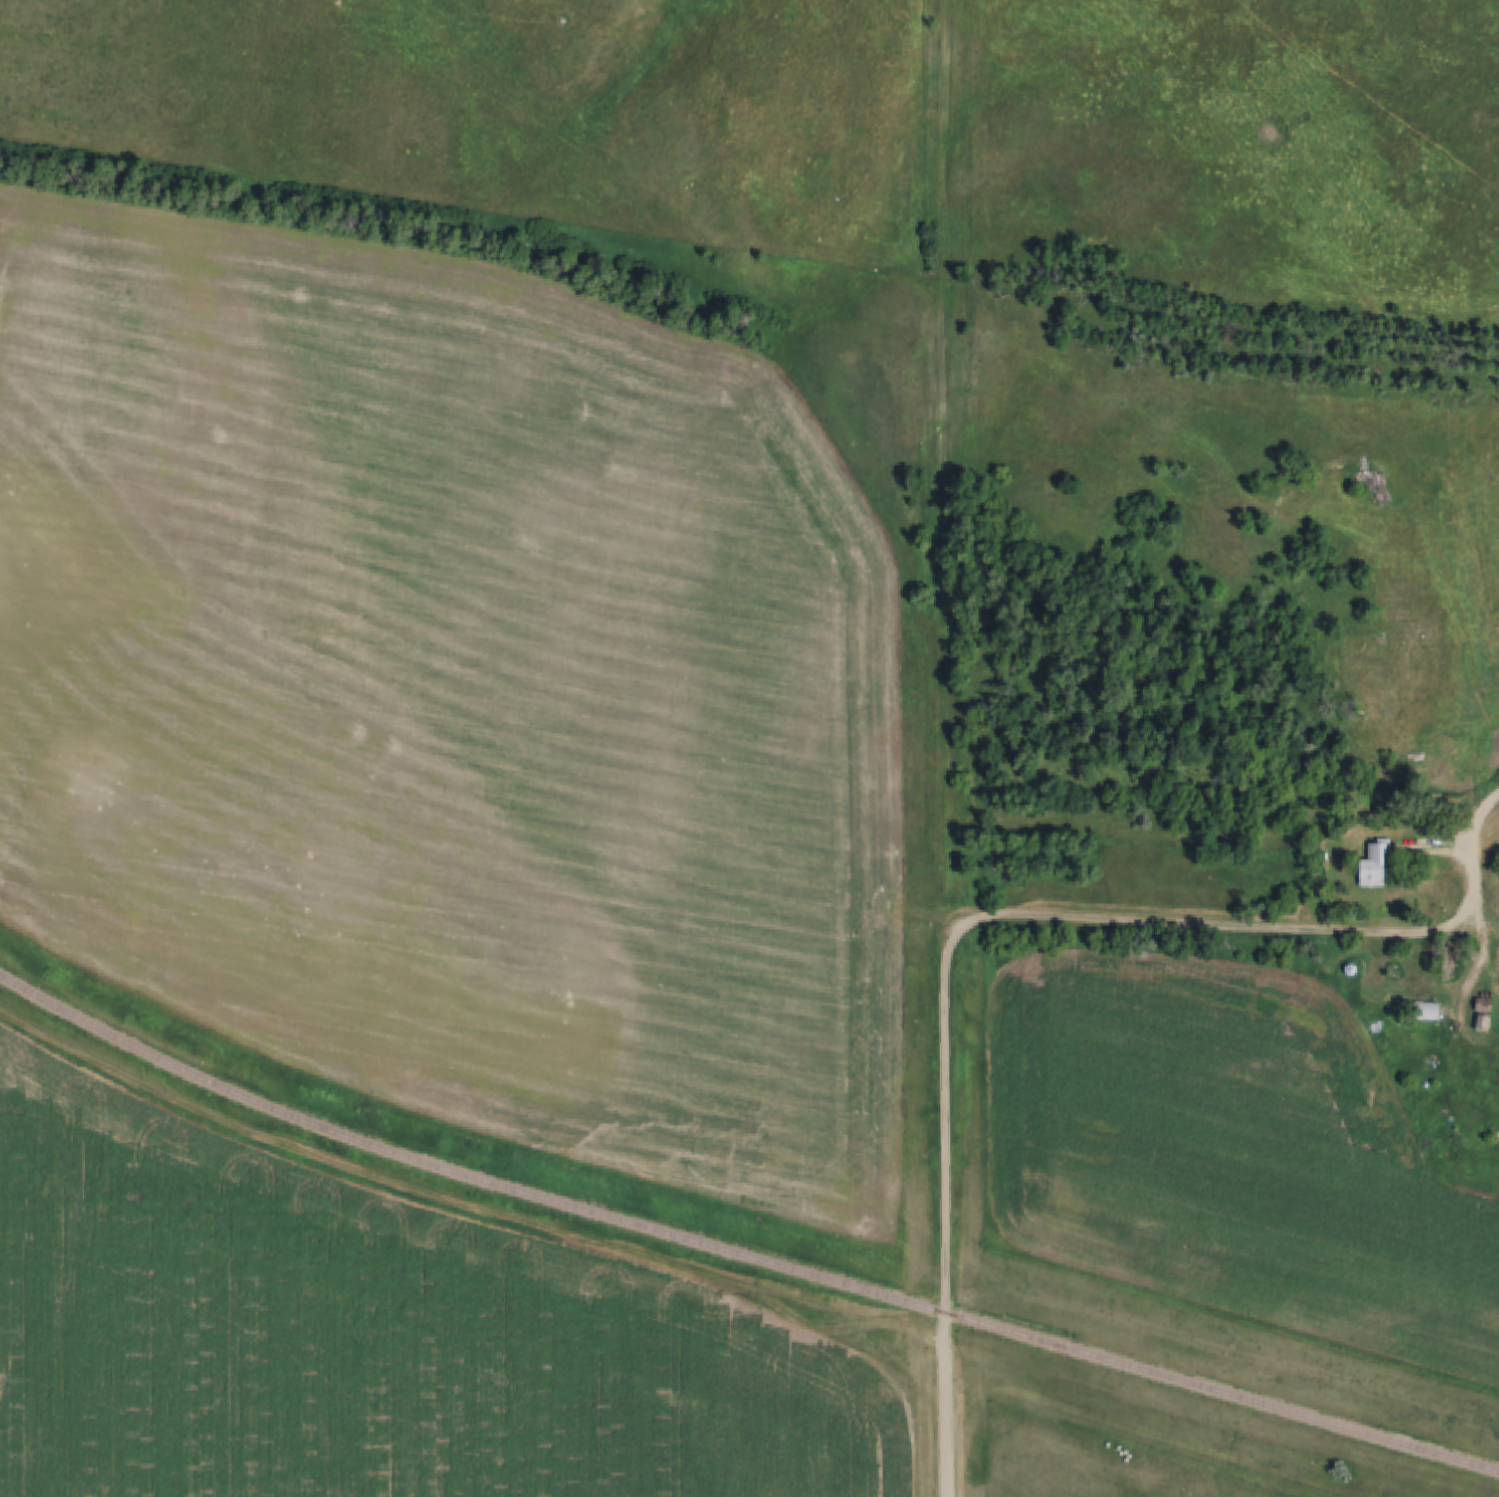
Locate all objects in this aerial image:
road: (950, 466)
building: (1376, 862)
road: (1276, 928)
road: (1488, 936)
building: (1450, 954)
building: (1445, 958)
building: (1353, 968)
silo: (1353, 968)
building: (1397, 971)
silo: (1397, 971)
building: (1486, 1004)
building: (1429, 1010)
building: (1486, 1021)
building: (1481, 1025)
road: (949, 1214)
railway: (737, 1251)

